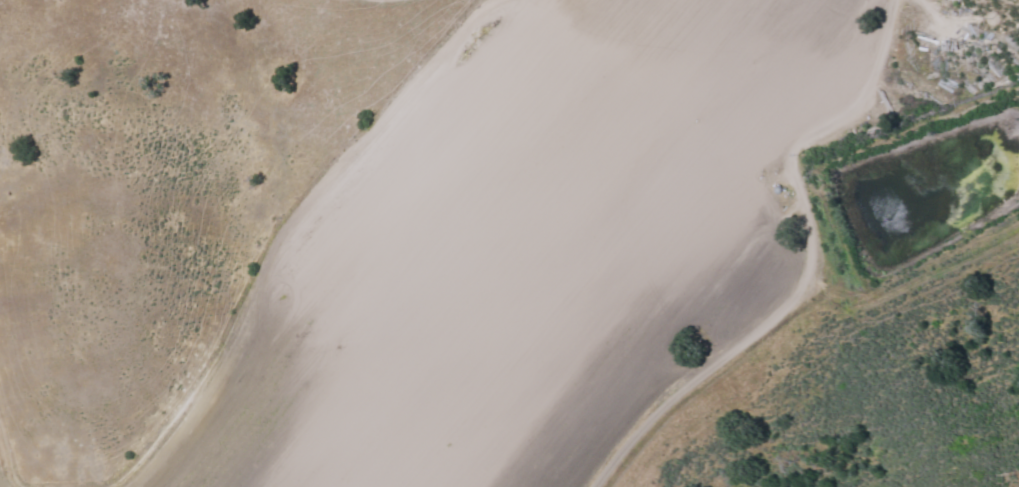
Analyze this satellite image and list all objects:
crop: (528, 250)
road: (805, 266)

